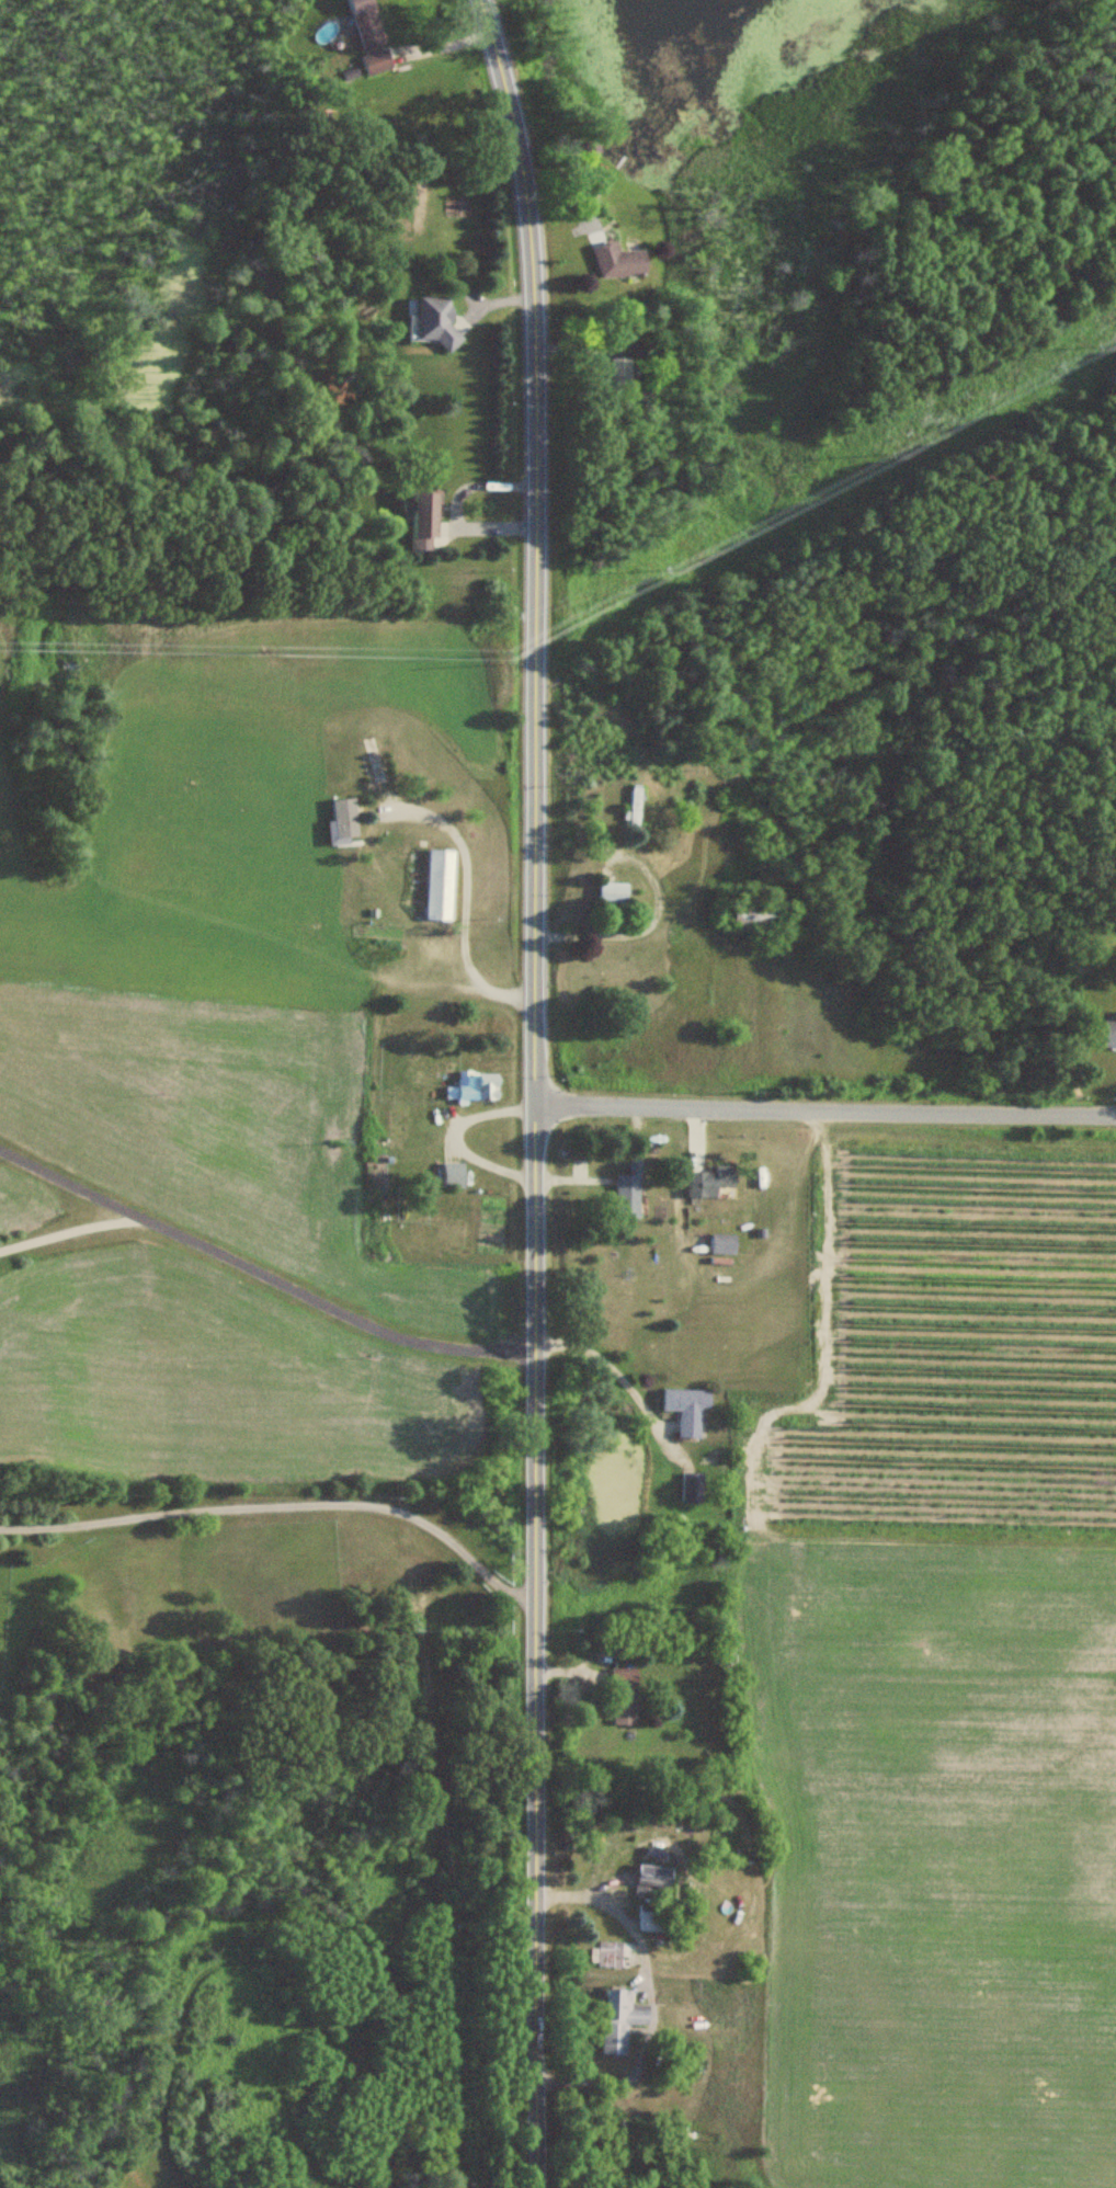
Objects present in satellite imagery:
building: (366, 23)
building: (376, 62)
building: (618, 263)
building: (432, 322)
building: (618, 378)
building: (423, 521)
building: (373, 763)
building: (633, 810)
building: (439, 887)
building: (612, 893)
road: (465, 899)
building: (750, 923)
road: (641, 933)
building: (1109, 1036)
building: (477, 1086)
road: (535, 1090)
road: (825, 1112)
building: (448, 1175)
building: (711, 1182)
building: (629, 1193)
road: (70, 1230)
building: (724, 1244)
road: (261, 1274)
road: (612, 1369)
building: (686, 1409)
building: (692, 1486)
road: (281, 1504)
building: (624, 1697)
building: (633, 1895)
building: (613, 1951)
road: (650, 1997)
building: (618, 2020)
building: (657, 2058)

